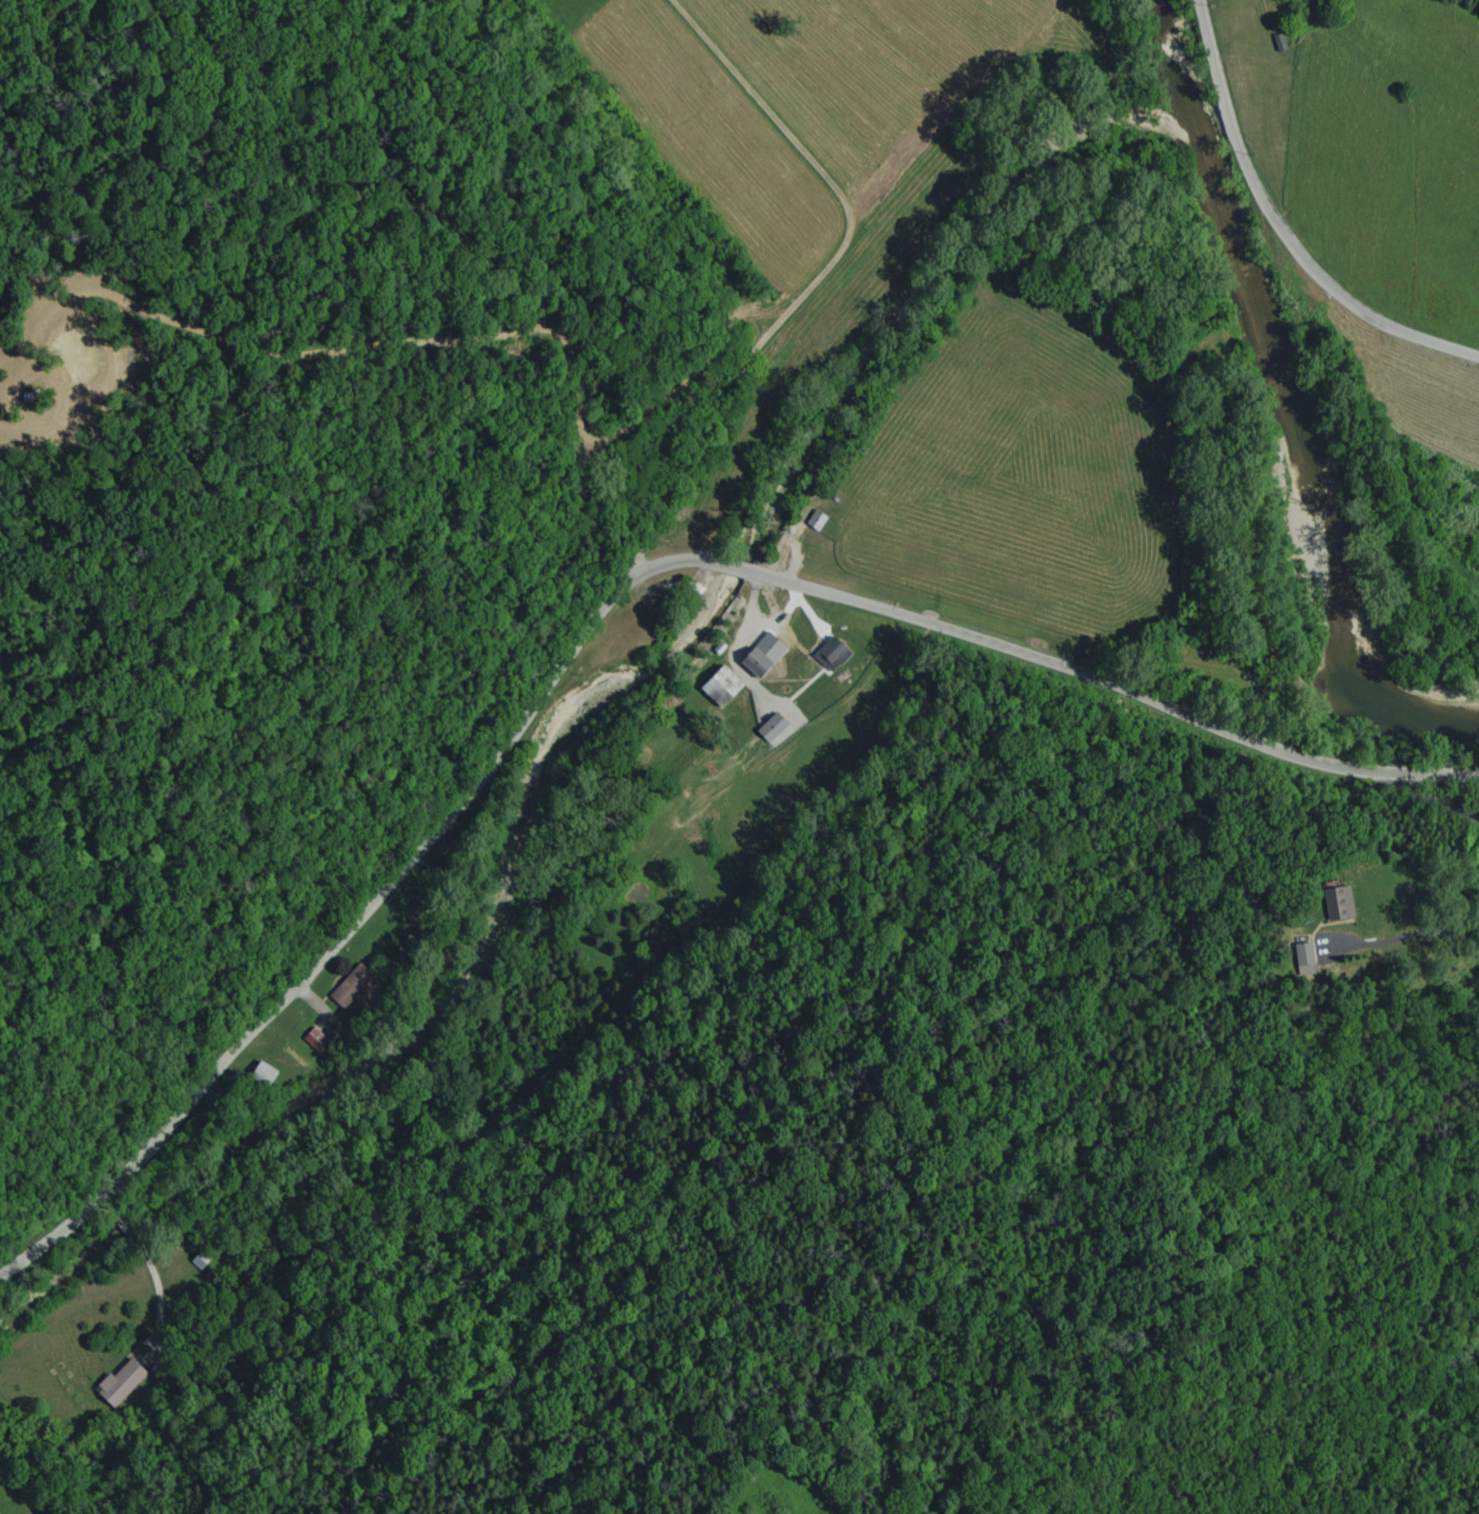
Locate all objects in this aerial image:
road: (1284, 229)
road: (731, 270)
river: (1291, 387)
building: (816, 521)
road: (602, 608)
building: (833, 652)
building: (764, 656)
building: (722, 686)
building: (773, 728)
road: (1431, 797)
building: (1346, 903)
road: (1402, 927)
building: (1304, 961)
building: (349, 989)
building: (314, 1040)
building: (199, 1262)
road: (176, 1282)
building: (120, 1383)

